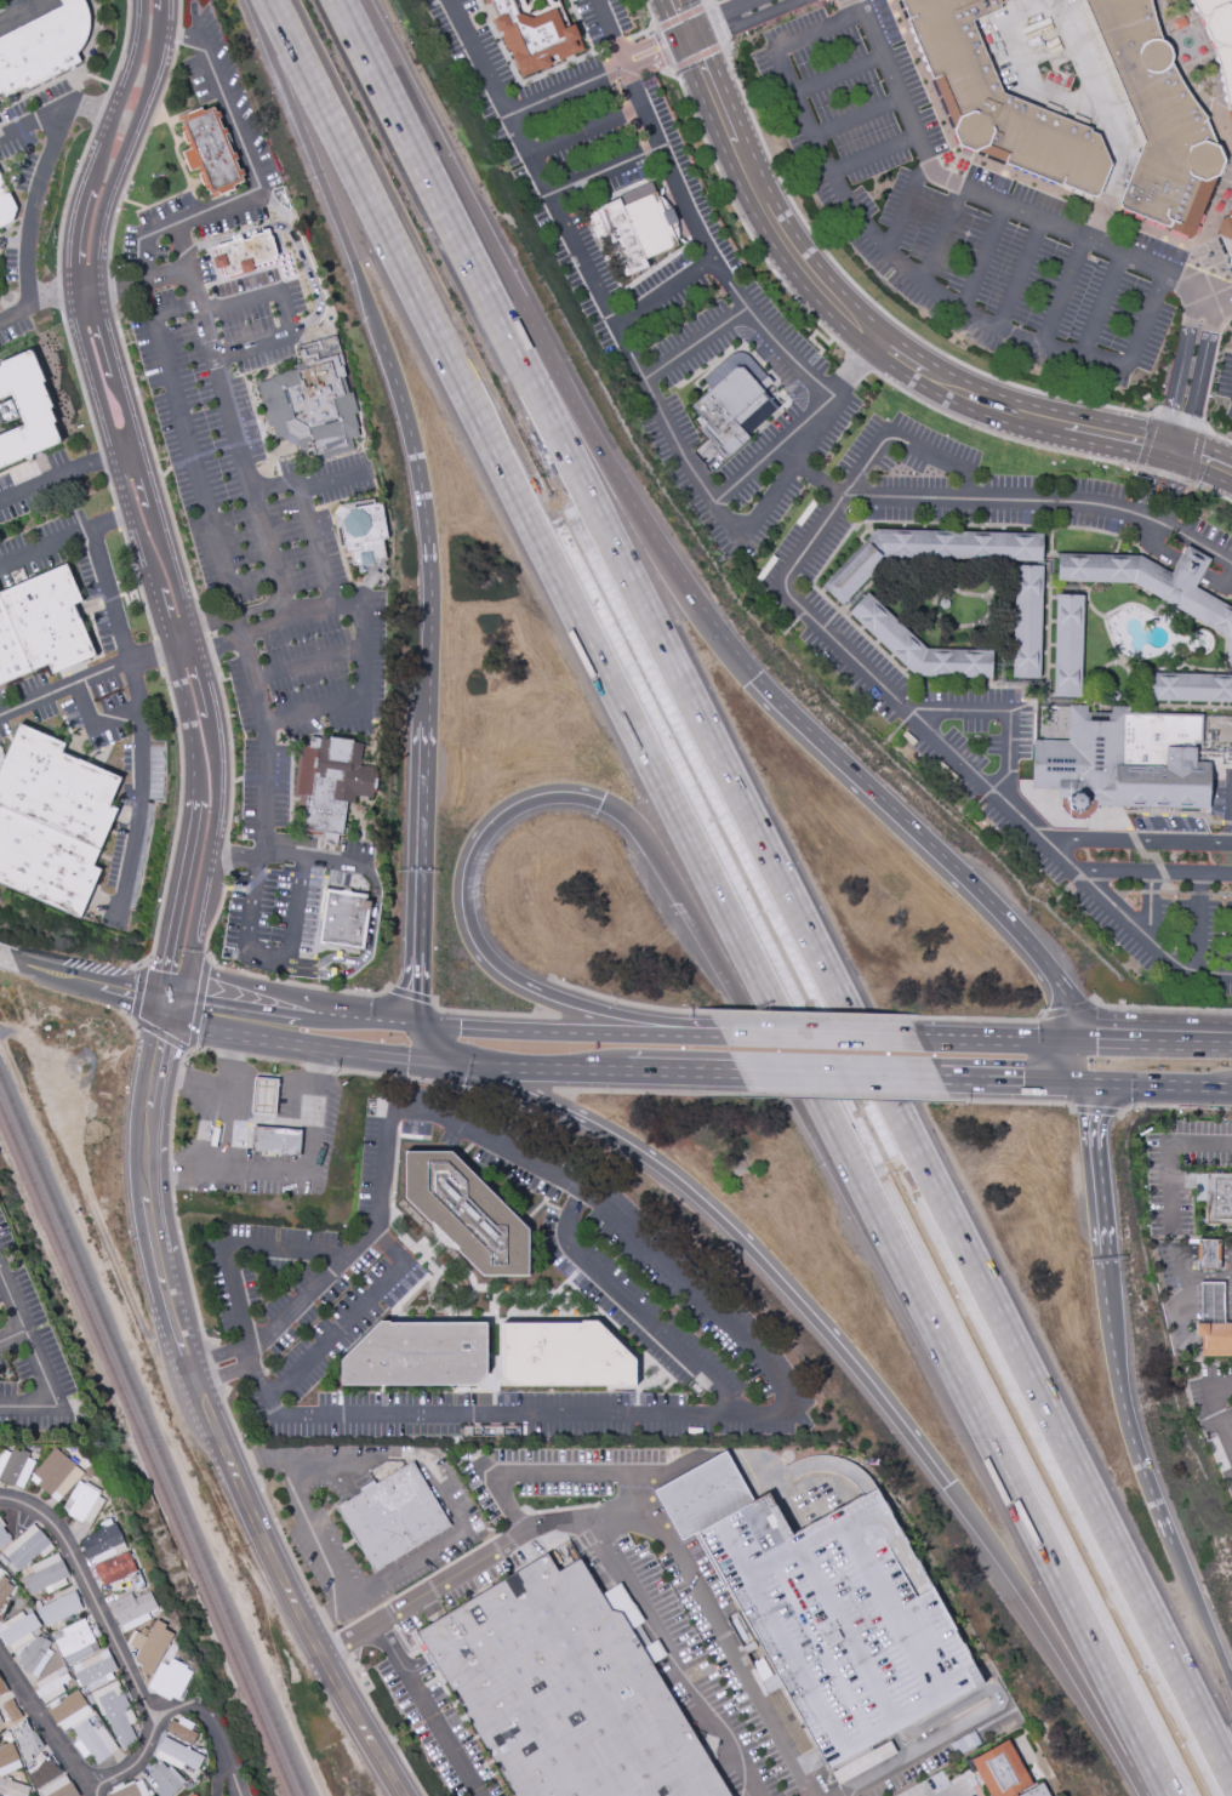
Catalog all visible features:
parking lot: (713, 0)
road: (713, 4)
road: (708, 5)
road: (738, 5)
road: (17, 7)
road: (24, 12)
road: (769, 16)
road: (280, 19)
road: (1068, 24)
road: (654, 28)
traffic signals: (683, 29)
road: (677, 30)
road: (611, 33)
building: (1220, 35)
building: (535, 36)
road: (181, 38)
fountain: (1186, 42)
building: (44, 47)
traffic signals: (691, 49)
road: (684, 51)
road: (479, 58)
road: (628, 58)
road: (150, 64)
road: (631, 68)
parking lot: (1061, 69)
road: (839, 74)
road: (1199, 74)
road: (566, 91)
building: (999, 101)
road: (85, 113)
road: (859, 116)
building: (1158, 119)
road: (32, 121)
road: (584, 130)
road: (176, 144)
building: (211, 150)
road: (137, 153)
road: (437, 153)
road: (875, 154)
road: (604, 172)
road: (335, 189)
road: (173, 195)
road: (255, 195)
road: (906, 203)
road: (996, 203)
road: (36, 204)
road: (132, 204)
building: (6, 205)
parking lot: (957, 210)
road: (738, 215)
road: (1211, 228)
building: (633, 230)
road: (291, 233)
road: (941, 235)
building: (1227, 236)
road: (706, 252)
building: (244, 253)
road: (982, 258)
road: (900, 264)
road: (255, 270)
road: (1019, 275)
road: (142, 284)
road: (658, 284)
road: (108, 286)
road: (1062, 292)
road: (62, 295)
road: (1101, 304)
road: (843, 307)
road: (878, 307)
parking lot: (198, 308)
road: (15, 313)
road: (287, 315)
road: (812, 335)
road: (696, 343)
road: (1183, 352)
road: (1205, 358)
road: (859, 360)
road: (222, 363)
road: (857, 364)
parking lot: (1225, 381)
road: (1209, 387)
building: (313, 401)
building: (25, 410)
building: (731, 412)
road: (1180, 421)
road: (233, 423)
road: (1165, 435)
road: (1147, 440)
road: (1186, 441)
road: (216, 449)
road: (680, 449)
road: (772, 449)
road: (1048, 449)
road: (266, 451)
road: (188, 452)
road: (1171, 455)
road: (783, 456)
road: (1197, 456)
traffic signals: (1181, 458)
road: (104, 461)
road: (155, 461)
road: (1158, 462)
road: (1207, 467)
road: (1177, 468)
road: (165, 472)
road: (332, 480)
road: (36, 485)
road: (274, 486)
road: (1146, 492)
road: (297, 494)
road: (628, 497)
road: (124, 498)
road: (1167, 501)
road: (109, 521)
road: (426, 528)
building: (361, 531)
road: (314, 544)
road: (45, 547)
building: (930, 553)
road: (829, 559)
road: (171, 563)
building: (1154, 583)
road: (109, 594)
road: (791, 597)
road: (1224, 597)
road: (1049, 605)
road: (235, 615)
road: (300, 618)
building: (1028, 622)
road: (1170, 623)
building: (41, 626)
road: (206, 638)
road: (216, 644)
building: (920, 646)
building: (1070, 646)
road: (161, 651)
road: (360, 654)
road: (1118, 660)
road: (306, 662)
road: (223, 679)
traffic signals: (752, 679)
road: (133, 684)
road: (1034, 684)
road: (1021, 685)
road: (63, 686)
building: (1190, 688)
parking lot: (942, 702)
road: (1158, 703)
road: (1005, 711)
road: (310, 712)
road: (93, 724)
road: (229, 753)
building: (1125, 762)
road: (1043, 765)
road: (235, 780)
building: (330, 782)
parking lot: (266, 787)
traffic signals: (603, 799)
road: (264, 808)
road: (1169, 814)
road: (137, 815)
road: (1124, 819)
building: (52, 821)
road: (1077, 822)
road: (1222, 822)
road: (176, 823)
road: (421, 837)
road: (1134, 840)
road: (1137, 840)
road: (928, 849)
road: (234, 854)
road: (1150, 856)
road: (314, 857)
road: (222, 861)
road: (274, 871)
road: (1153, 872)
road: (1162, 873)
road: (787, 886)
road: (228, 888)
road: (1170, 888)
road: (1128, 891)
road: (1150, 893)
road: (1175, 894)
road: (1199, 894)
road: (1220, 895)
road: (1150, 906)
road: (1200, 910)
road: (296, 911)
road: (732, 917)
building: (344, 920)
parking lot: (1228, 930)
road: (474, 945)
road: (369, 951)
road: (8, 958)
road: (724, 969)
road: (56, 971)
road: (335, 973)
road: (256, 975)
road: (412, 987)
road: (135, 993)
road: (543, 993)
road: (411, 994)
traffic signals: (176, 1003)
road: (626, 1003)
road: (238, 1007)
road: (1068, 1009)
road: (1159, 1009)
road: (483, 1013)
road: (806, 1016)
road: (354, 1017)
road: (132, 1020)
road: (977, 1020)
traffic signals: (409, 1024)
road: (247, 1027)
road: (555, 1028)
road: (712, 1032)
road: (15, 1033)
road: (820, 1036)
road: (993, 1039)
traffic signals: (1068, 1040)
road: (427, 1043)
road: (1150, 1043)
road: (176, 1044)
road: (194, 1050)
road: (228, 1054)
road: (383, 1056)
road: (1068, 1059)
road: (273, 1060)
traffic signals: (445, 1064)
road: (535, 1066)
road: (318, 1067)
road: (681, 1070)
road: (839, 1073)
road: (1004, 1077)
road: (178, 1078)
traffic signals: (1068, 1078)
road: (1106, 1079)
road: (1188, 1083)
road: (450, 1085)
road: (652, 1091)
building: (263, 1093)
gas station: (263, 1093)
road: (228, 1095)
road: (850, 1096)
road: (1013, 1102)
road: (1175, 1106)
road: (1096, 1110)
road: (266, 1117)
road: (172, 1122)
parking lot: (304, 1124)
building: (275, 1140)
road: (1168, 1154)
road: (1095, 1161)
road: (256, 1169)
road: (170, 1170)
parking lot: (1181, 1171)
building: (1215, 1195)
building: (467, 1213)
road: (732, 1228)
road: (1208, 1252)
road: (1226, 1253)
building: (1208, 1254)
parking lot: (1167, 1267)
road: (187, 1271)
road: (1187, 1277)
road: (691, 1290)
building: (1211, 1302)
road: (296, 1306)
road: (635, 1308)
road: (350, 1313)
road: (11, 1334)
building: (1214, 1339)
road: (27, 1340)
road: (218, 1355)
building: (418, 1355)
building: (564, 1356)
parking lot: (29, 1357)
road: (212, 1368)
road: (226, 1375)
road: (1119, 1395)
road: (28, 1407)
road: (1221, 1408)
parking lot: (1215, 1413)
road: (212, 1418)
road: (230, 1418)
railway: (153, 1435)
railway: (147, 1448)
road: (249, 1461)
building: (15, 1467)
building: (56, 1475)
road: (603, 1475)
traffic signals: (949, 1486)
building: (703, 1496)
building: (82, 1503)
road: (621, 1507)
road: (970, 1513)
building: (392, 1515)
building: (4, 1535)
building: (102, 1541)
road: (284, 1541)
building: (24, 1549)
road: (413, 1561)
building: (114, 1568)
building: (1, 1569)
building: (46, 1575)
building: (4, 1587)
building: (58, 1608)
building: (131, 1609)
road: (1199, 1609)
road: (327, 1614)
road: (323, 1621)
building: (843, 1621)
parking garage: (843, 1621)
road: (658, 1623)
building: (18, 1629)
road: (331, 1636)
road: (113, 1638)
building: (74, 1642)
building: (150, 1646)
road: (338, 1649)
building: (34, 1655)
building: (95, 1670)
road: (1074, 1675)
building: (567, 1689)
building: (61, 1699)
building: (10, 1710)
road: (427, 1710)
building: (115, 1715)
road: (970, 1721)
road: (46, 1724)
road: (209, 1728)
road: (384, 1728)
building: (964, 1743)
building: (177, 1755)
building: (7, 1758)
building: (40, 1763)
building: (1002, 1772)
building: (164, 1779)
road: (229, 1780)
building: (12, 1789)
building: (129, 1789)
building: (1037, 1791)
road: (952, 1794)
building: (193, 1795)

